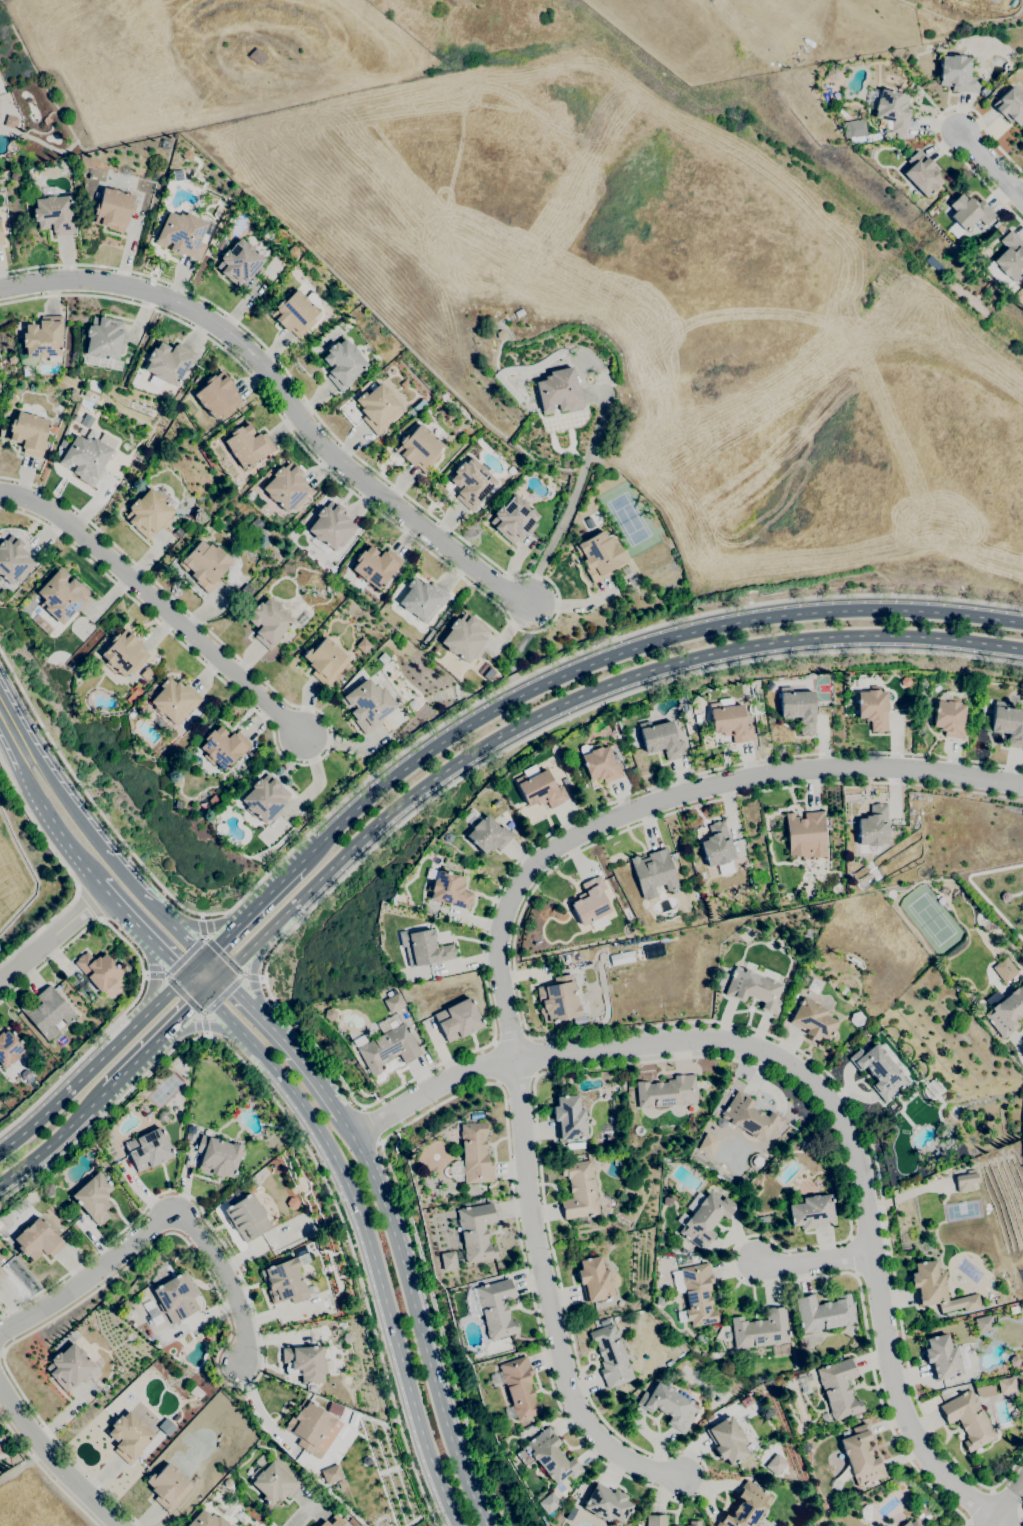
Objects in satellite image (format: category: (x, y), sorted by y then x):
building: (993, 0)
road: (806, 31)
building: (833, 72)
building: (957, 74)
building: (1010, 105)
building: (890, 110)
building: (10, 121)
building: (852, 128)
road: (933, 128)
road: (990, 166)
building: (921, 174)
building: (113, 209)
building: (968, 212)
building: (54, 215)
building: (182, 234)
building: (1, 237)
building: (222, 239)
building: (219, 244)
building: (293, 251)
building: (1007, 260)
building: (240, 263)
building: (295, 312)
building: (519, 313)
building: (500, 334)
building: (43, 337)
building: (104, 344)
building: (11, 359)
building: (342, 363)
building: (167, 364)
building: (524, 372)
building: (404, 384)
building: (559, 391)
building: (217, 395)
road: (287, 396)
building: (377, 407)
building: (85, 409)
building: (74, 421)
building: (53, 429)
building: (29, 433)
building: (247, 445)
building: (457, 445)
building: (418, 448)
building: (59, 453)
building: (85, 458)
building: (471, 483)
building: (287, 487)
road: (572, 494)
building: (249, 496)
building: (148, 513)
building: (513, 519)
building: (256, 523)
building: (297, 528)
building: (330, 528)
building: (178, 532)
building: (599, 555)
building: (13, 560)
building: (205, 565)
building: (375, 566)
building: (246, 589)
building: (2, 596)
building: (62, 596)
building: (422, 599)
road: (166, 605)
road: (558, 609)
building: (268, 622)
building: (43, 625)
building: (464, 638)
building: (363, 645)
road: (630, 649)
building: (123, 653)
building: (383, 658)
building: (325, 661)
building: (146, 673)
building: (138, 687)
road: (576, 697)
building: (174, 701)
building: (412, 704)
building: (367, 705)
building: (757, 708)
building: (798, 708)
building: (873, 708)
building: (949, 716)
building: (697, 718)
building: (729, 720)
building: (1008, 724)
road: (10, 728)
road: (424, 736)
building: (660, 739)
road: (328, 746)
building: (223, 747)
building: (599, 763)
road: (27, 777)
building: (568, 788)
building: (540, 789)
road: (668, 798)
road: (64, 799)
building: (264, 799)
building: (873, 826)
building: (805, 832)
building: (488, 835)
road: (69, 843)
building: (718, 848)
road: (68, 871)
building: (653, 873)
building: (702, 876)
road: (130, 883)
building: (447, 889)
building: (702, 891)
building: (591, 904)
road: (87, 907)
road: (242, 918)
park: (931, 919)
road: (201, 926)
road: (197, 927)
road: (179, 934)
road: (52, 936)
road: (148, 937)
building: (427, 948)
building: (653, 952)
road: (222, 955)
road: (184, 956)
building: (621, 957)
traffic signals: (203, 958)
building: (566, 958)
building: (98, 970)
building: (1005, 970)
road: (156, 974)
traffic signals: (186, 975)
road: (153, 976)
traffic signals: (220, 976)
road: (252, 977)
road: (251, 979)
road: (140, 982)
building: (814, 986)
road: (178, 989)
building: (753, 989)
traffic signals: (203, 993)
road: (222, 995)
building: (794, 996)
building: (559, 1001)
building: (393, 1002)
road: (196, 1010)
building: (1004, 1010)
building: (47, 1012)
building: (329, 1014)
building: (457, 1019)
building: (812, 1019)
building: (856, 1019)
road: (199, 1025)
road: (203, 1025)
road: (606, 1029)
road: (162, 1033)
road: (276, 1033)
road: (311, 1041)
building: (387, 1045)
building: (9, 1048)
road: (94, 1064)
building: (878, 1070)
road: (815, 1086)
building: (666, 1092)
building: (144, 1107)
building: (148, 1115)
building: (163, 1116)
building: (750, 1117)
building: (568, 1118)
road: (373, 1124)
building: (188, 1126)
road: (55, 1139)
road: (301, 1140)
building: (708, 1144)
building: (148, 1149)
building: (475, 1153)
building: (217, 1156)
building: (117, 1158)
building: (966, 1181)
building: (47, 1190)
building: (579, 1190)
building: (93, 1197)
building: (667, 1201)
building: (292, 1203)
building: (74, 1206)
building: (22, 1207)
building: (811, 1212)
building: (65, 1217)
building: (246, 1217)
building: (703, 1218)
building: (763, 1219)
road: (162, 1224)
building: (0, 1225)
building: (475, 1233)
building: (37, 1240)
road: (366, 1241)
building: (694, 1258)
building: (448, 1260)
road: (816, 1261)
building: (2, 1274)
building: (594, 1279)
building: (284, 1282)
building: (937, 1289)
building: (695, 1294)
building: (176, 1297)
road: (548, 1301)
building: (998, 1301)
building: (496, 1308)
building: (1013, 1309)
building: (152, 1313)
building: (823, 1313)
road: (225, 1319)
road: (417, 1320)
building: (984, 1323)
building: (761, 1333)
building: (210, 1338)
building: (700, 1338)
building: (657, 1339)
road: (575, 1351)
building: (611, 1356)
building: (941, 1357)
building: (1014, 1360)
building: (306, 1363)
building: (797, 1365)
building: (69, 1367)
building: (1007, 1385)
building: (517, 1388)
building: (838, 1389)
building: (984, 1391)
building: (669, 1406)
building: (333, 1409)
building: (857, 1416)
building: (968, 1419)
building: (308, 1424)
building: (129, 1437)
building: (728, 1438)
building: (508, 1443)
building: (804, 1447)
building: (0, 1449)
building: (861, 1456)
building: (551, 1457)
road: (53, 1461)
building: (776, 1464)
road: (46, 1472)
building: (331, 1474)
building: (273, 1480)
building: (227, 1483)
building: (836, 1485)
building: (168, 1487)
road: (1020, 1498)
road: (1004, 1500)
building: (548, 1503)
building: (607, 1504)
road: (1008, 1505)
building: (746, 1506)
road: (979, 1506)
road: (1018, 1510)
building: (571, 1513)
road: (299, 1515)
road: (1013, 1518)
building: (206, 1520)
building: (655, 1520)
building: (333, 1522)
building: (352, 1522)
building: (694, 1523)
building: (911, 1523)
road: (969, 1524)
building: (638, 1525)
building: (673, 1525)

